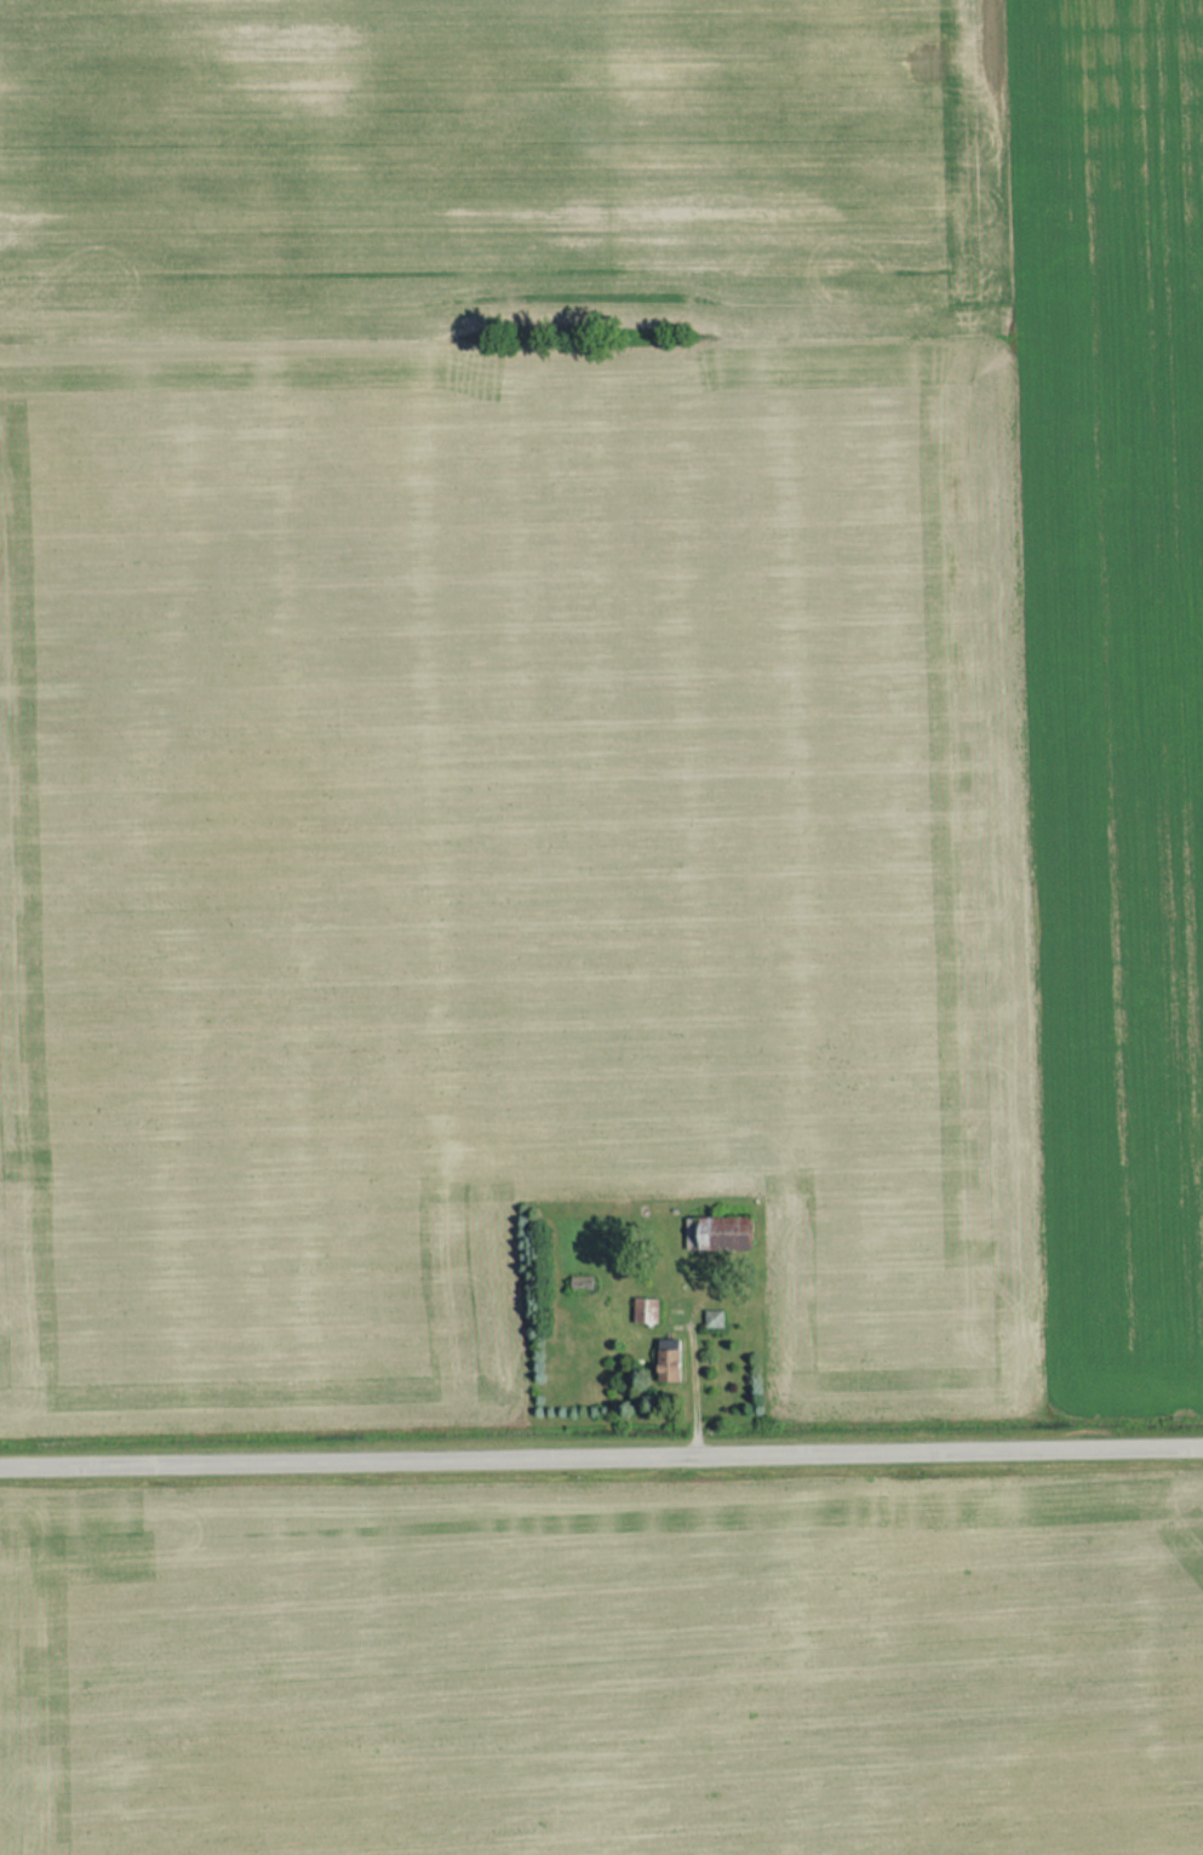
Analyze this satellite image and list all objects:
crop: (483, 154)
crop: (1110, 683)
crop: (504, 864)
road: (601, 1452)
crop: (605, 1670)

